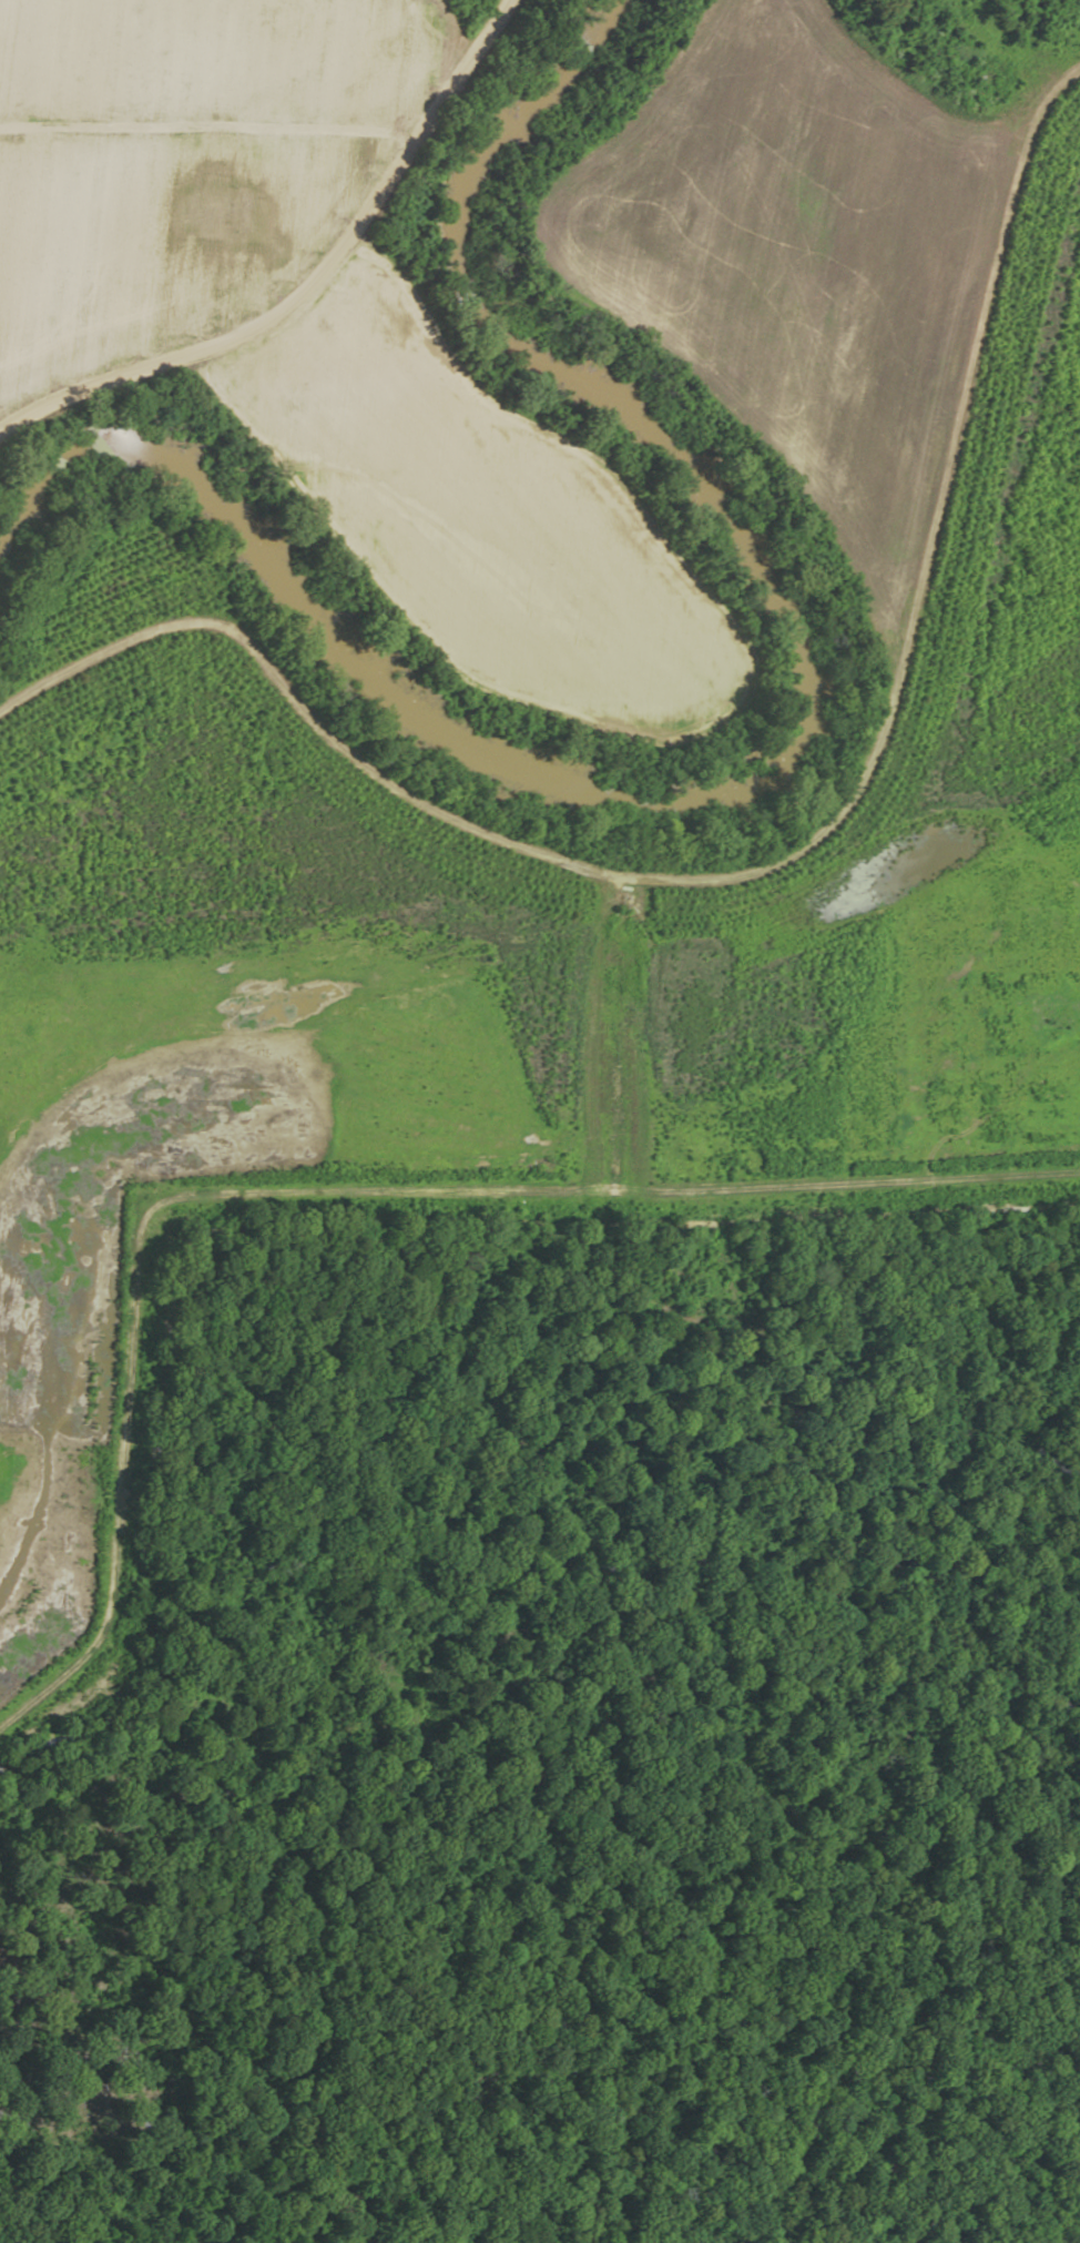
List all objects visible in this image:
road: (899, 112)
road: (303, 278)
road: (752, 869)

